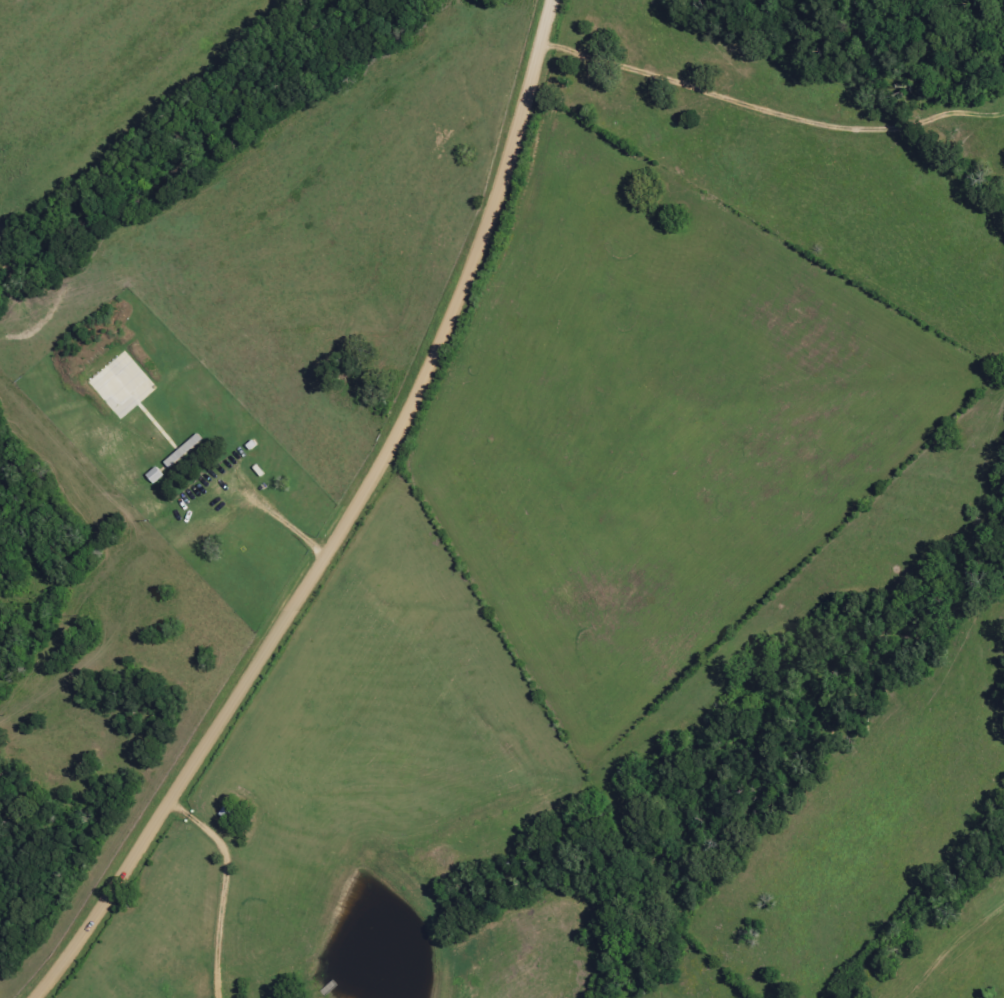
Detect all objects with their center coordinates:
road: (348, 523)

